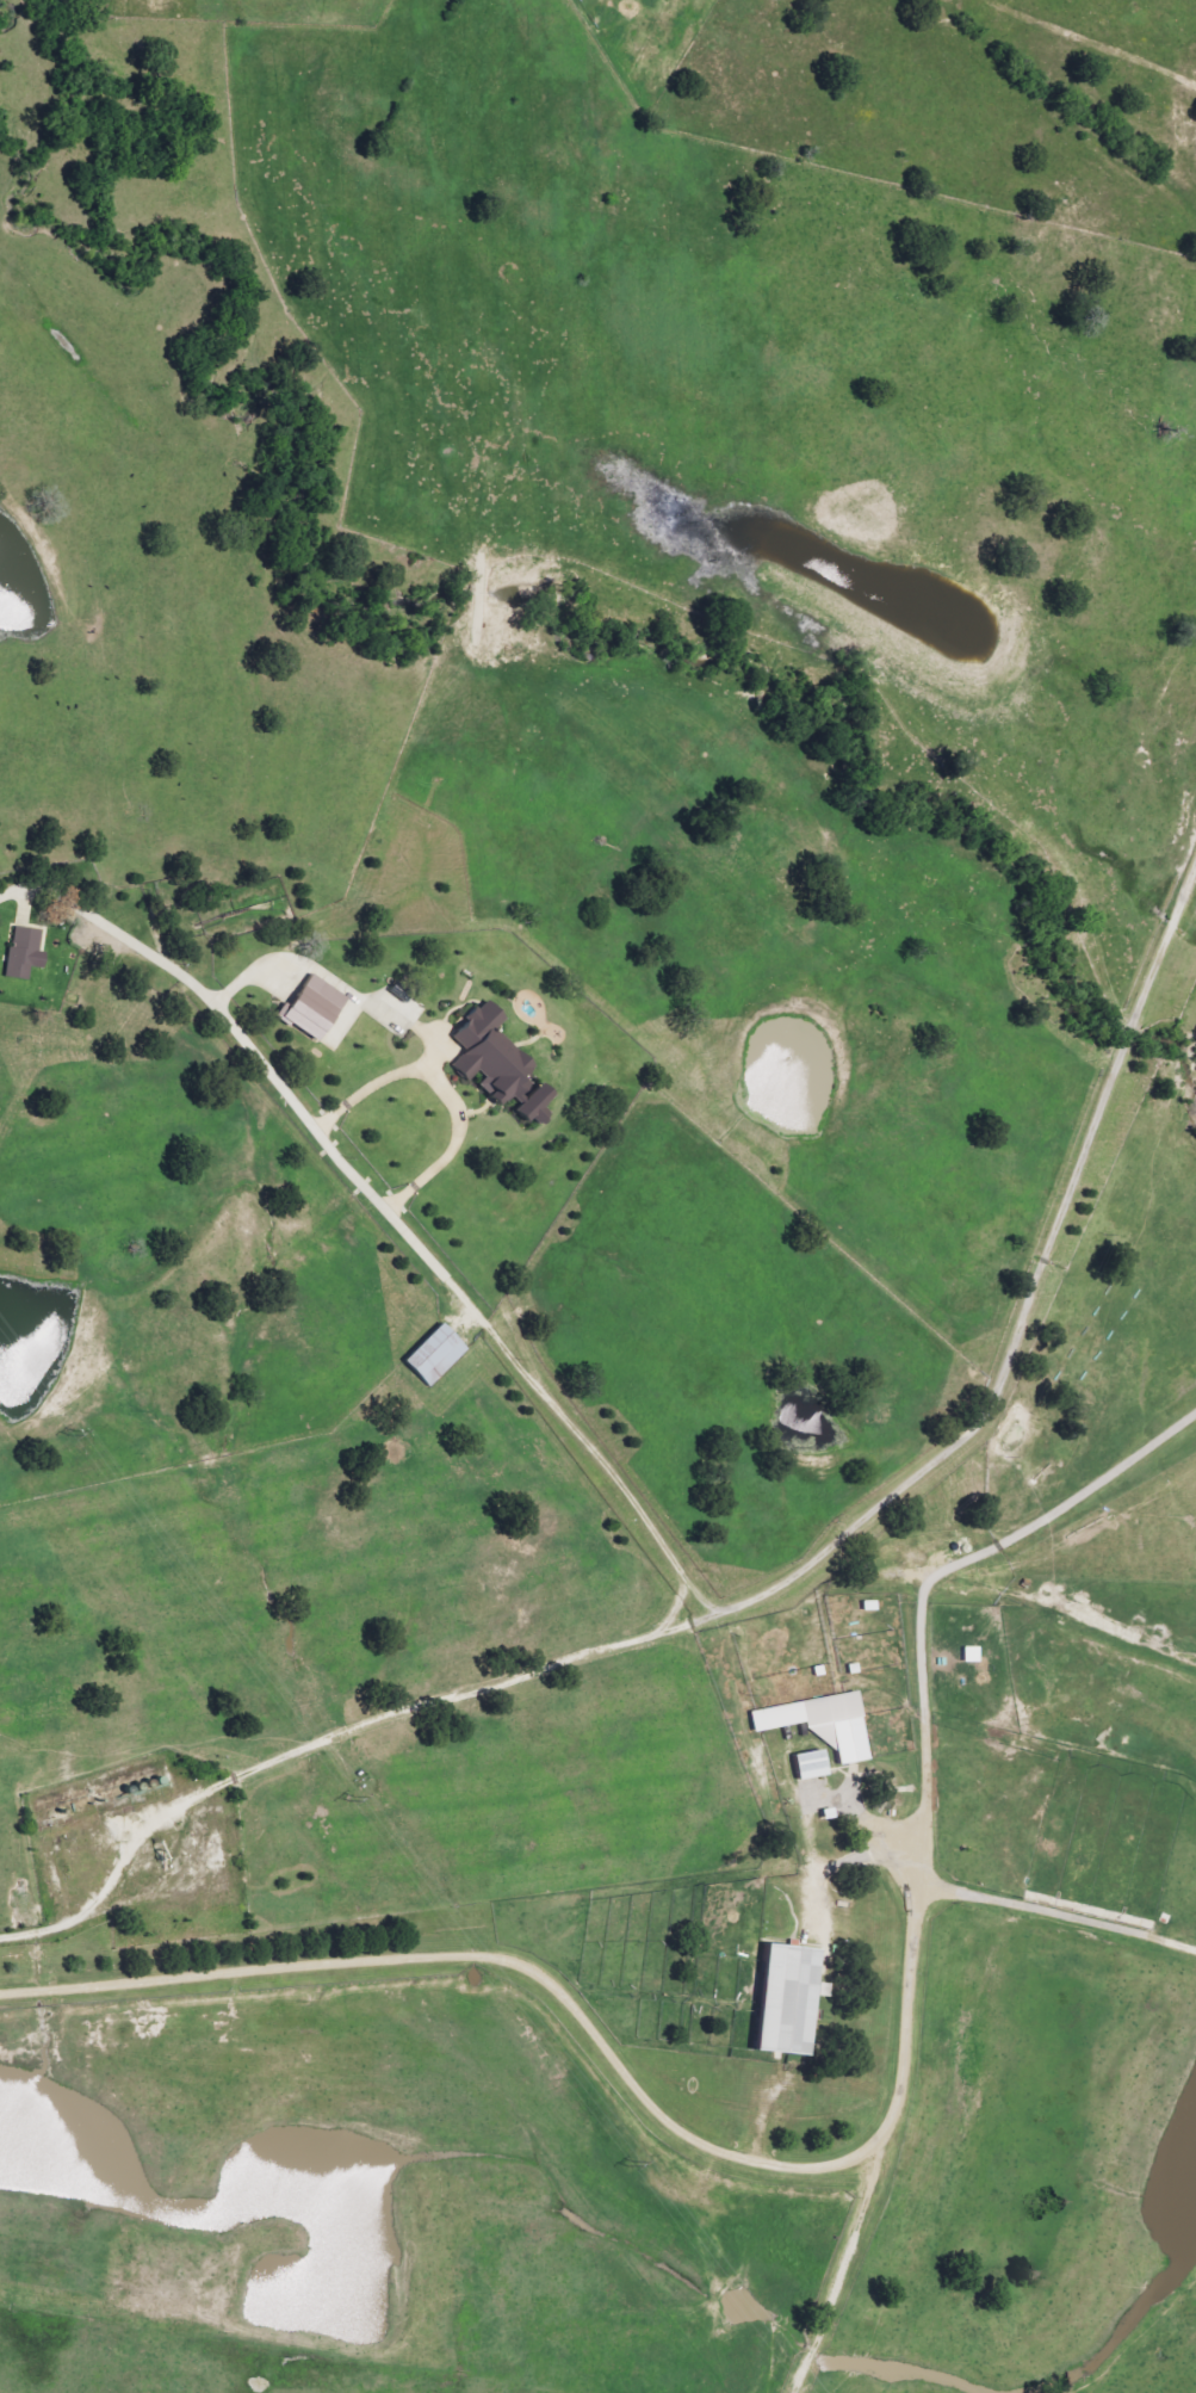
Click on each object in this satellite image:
building: (20, 953)
building: (308, 1007)
building: (484, 1055)
building: (529, 1106)
building: (430, 1355)
power tower: (68, 1435)
building: (818, 1723)
building: (804, 1764)
power tower: (348, 1801)
building: (777, 1999)
power tower: (627, 2166)

